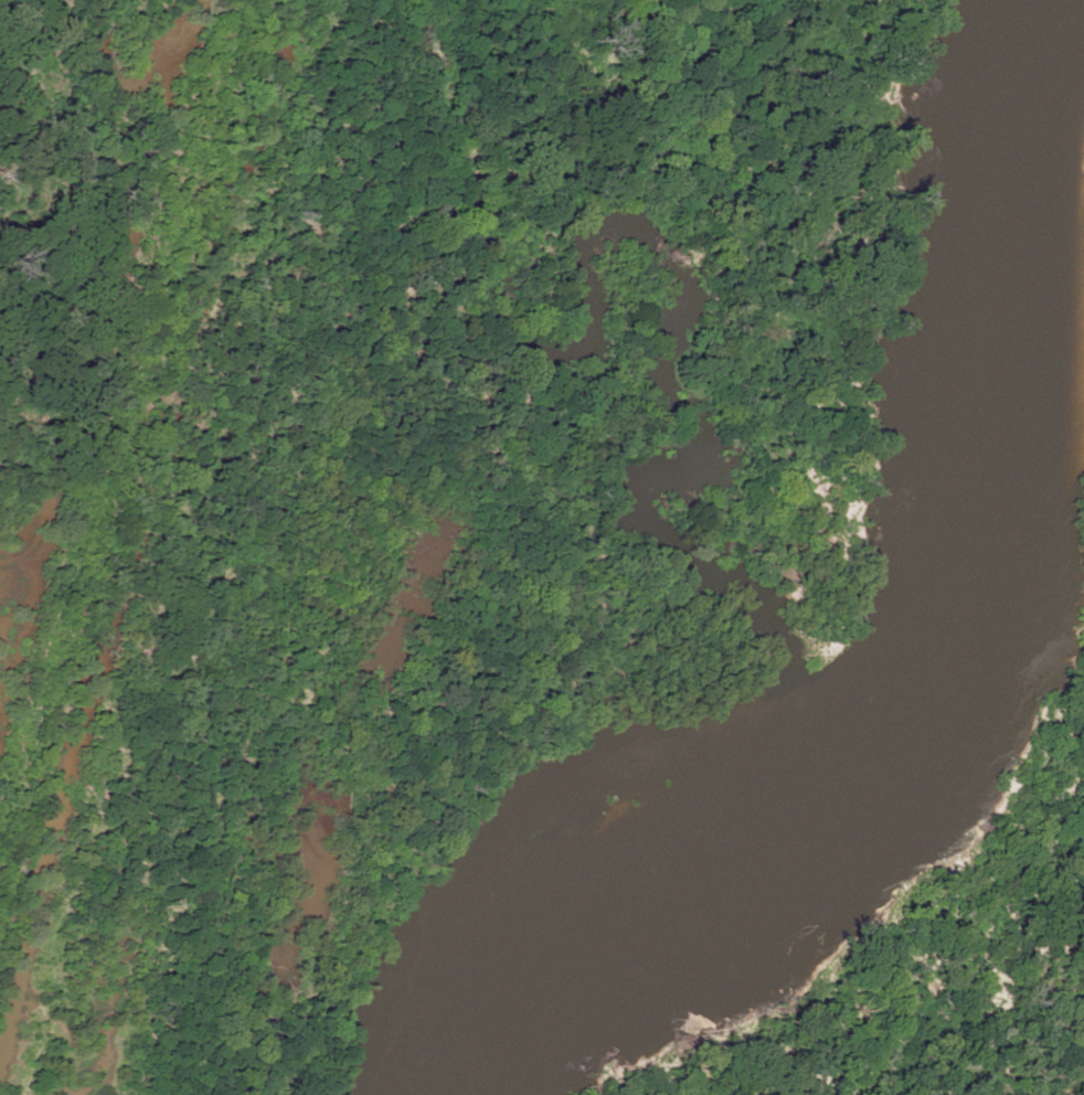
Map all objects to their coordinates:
river: (935, 648)

